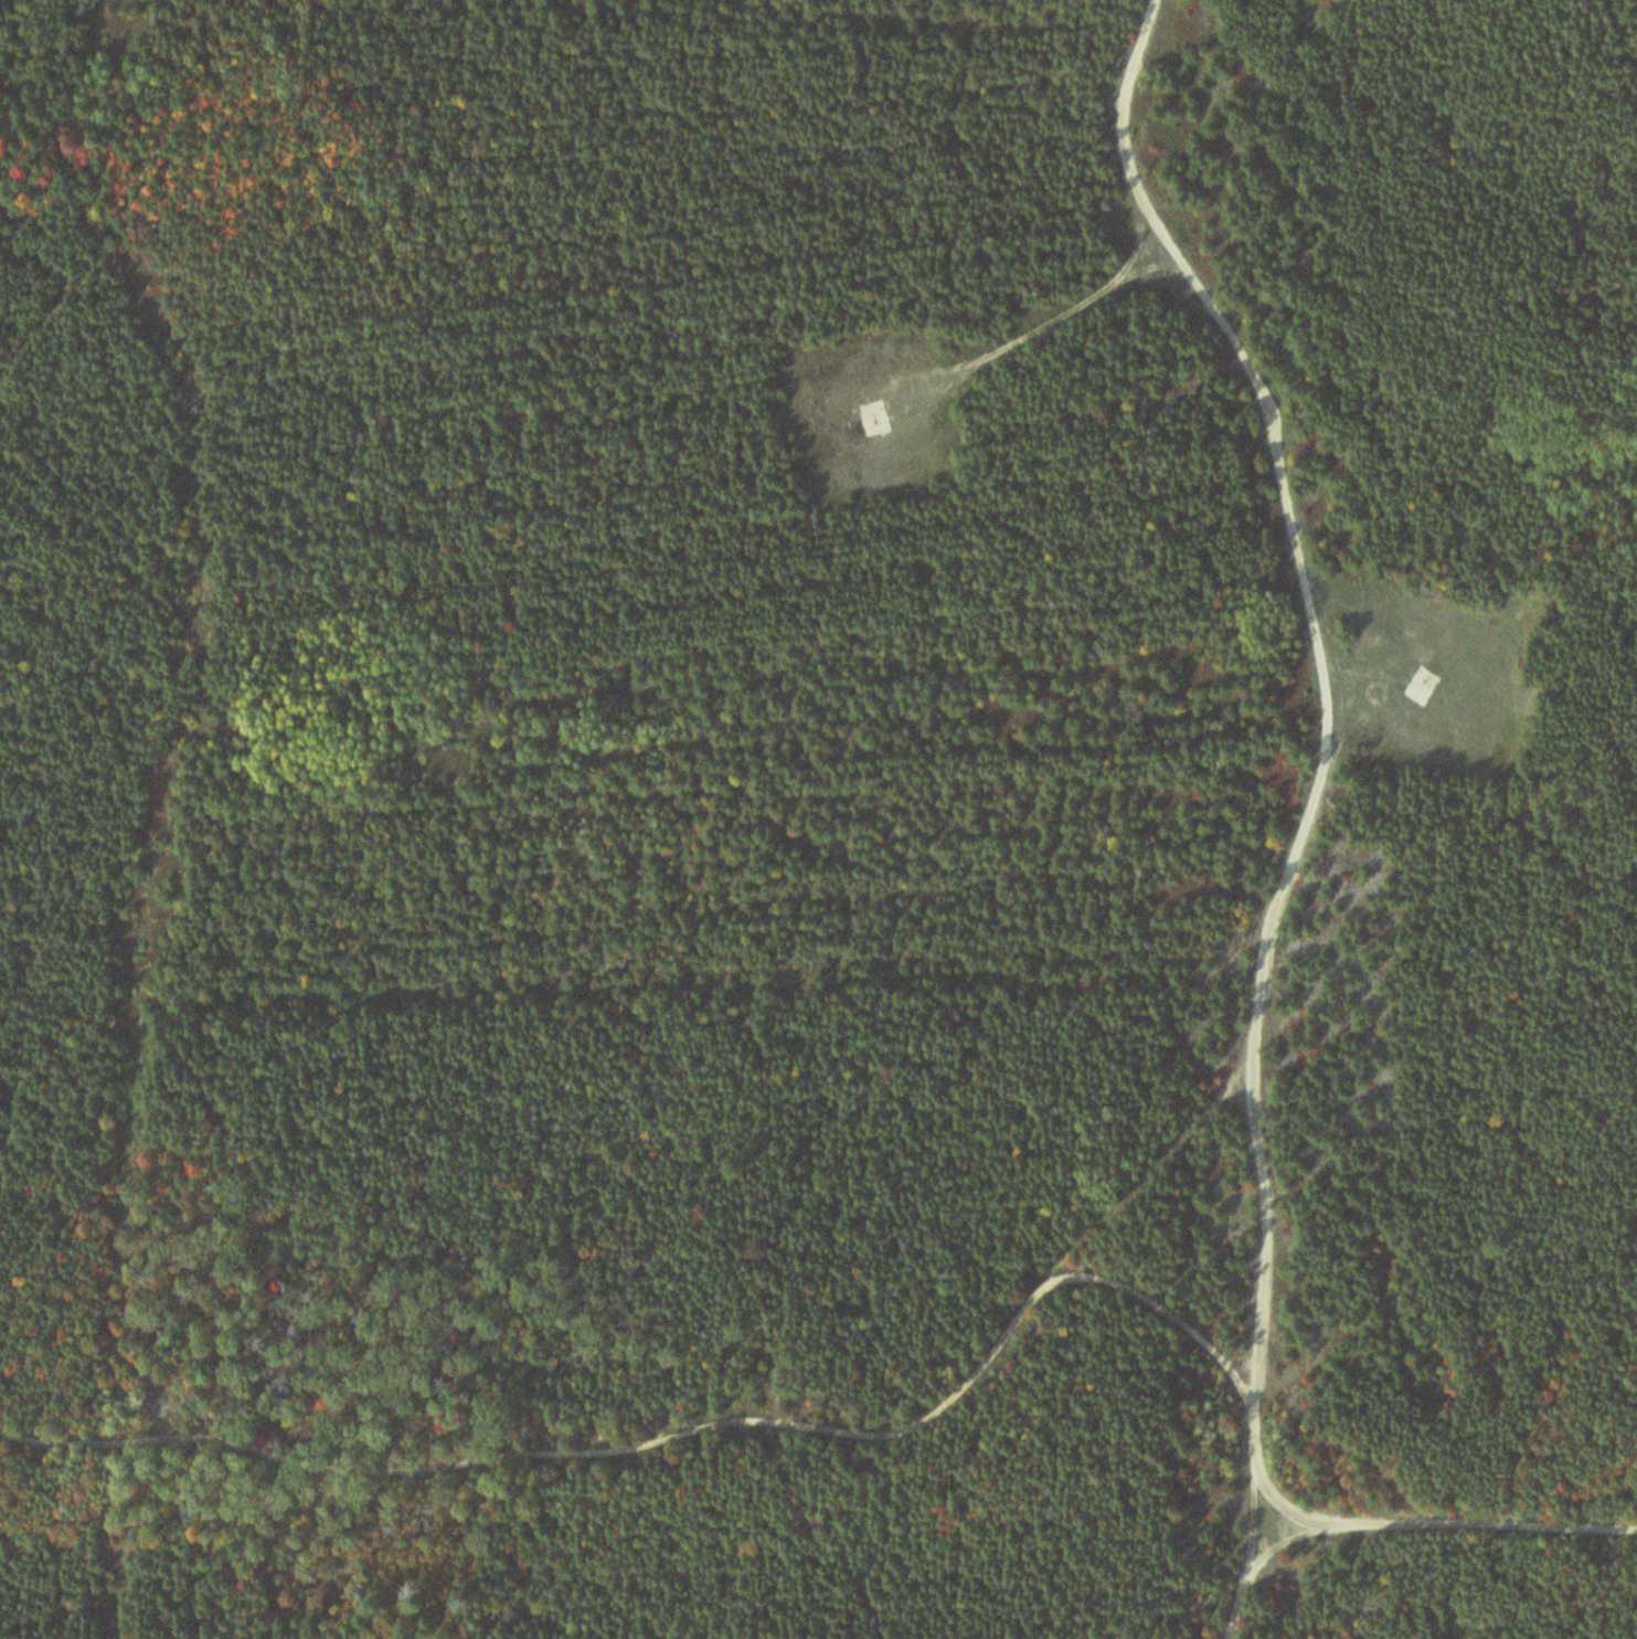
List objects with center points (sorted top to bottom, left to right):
road: (1061, 309)
road: (1326, 801)
road: (1159, 1169)
road: (689, 1428)
road: (1450, 1522)

